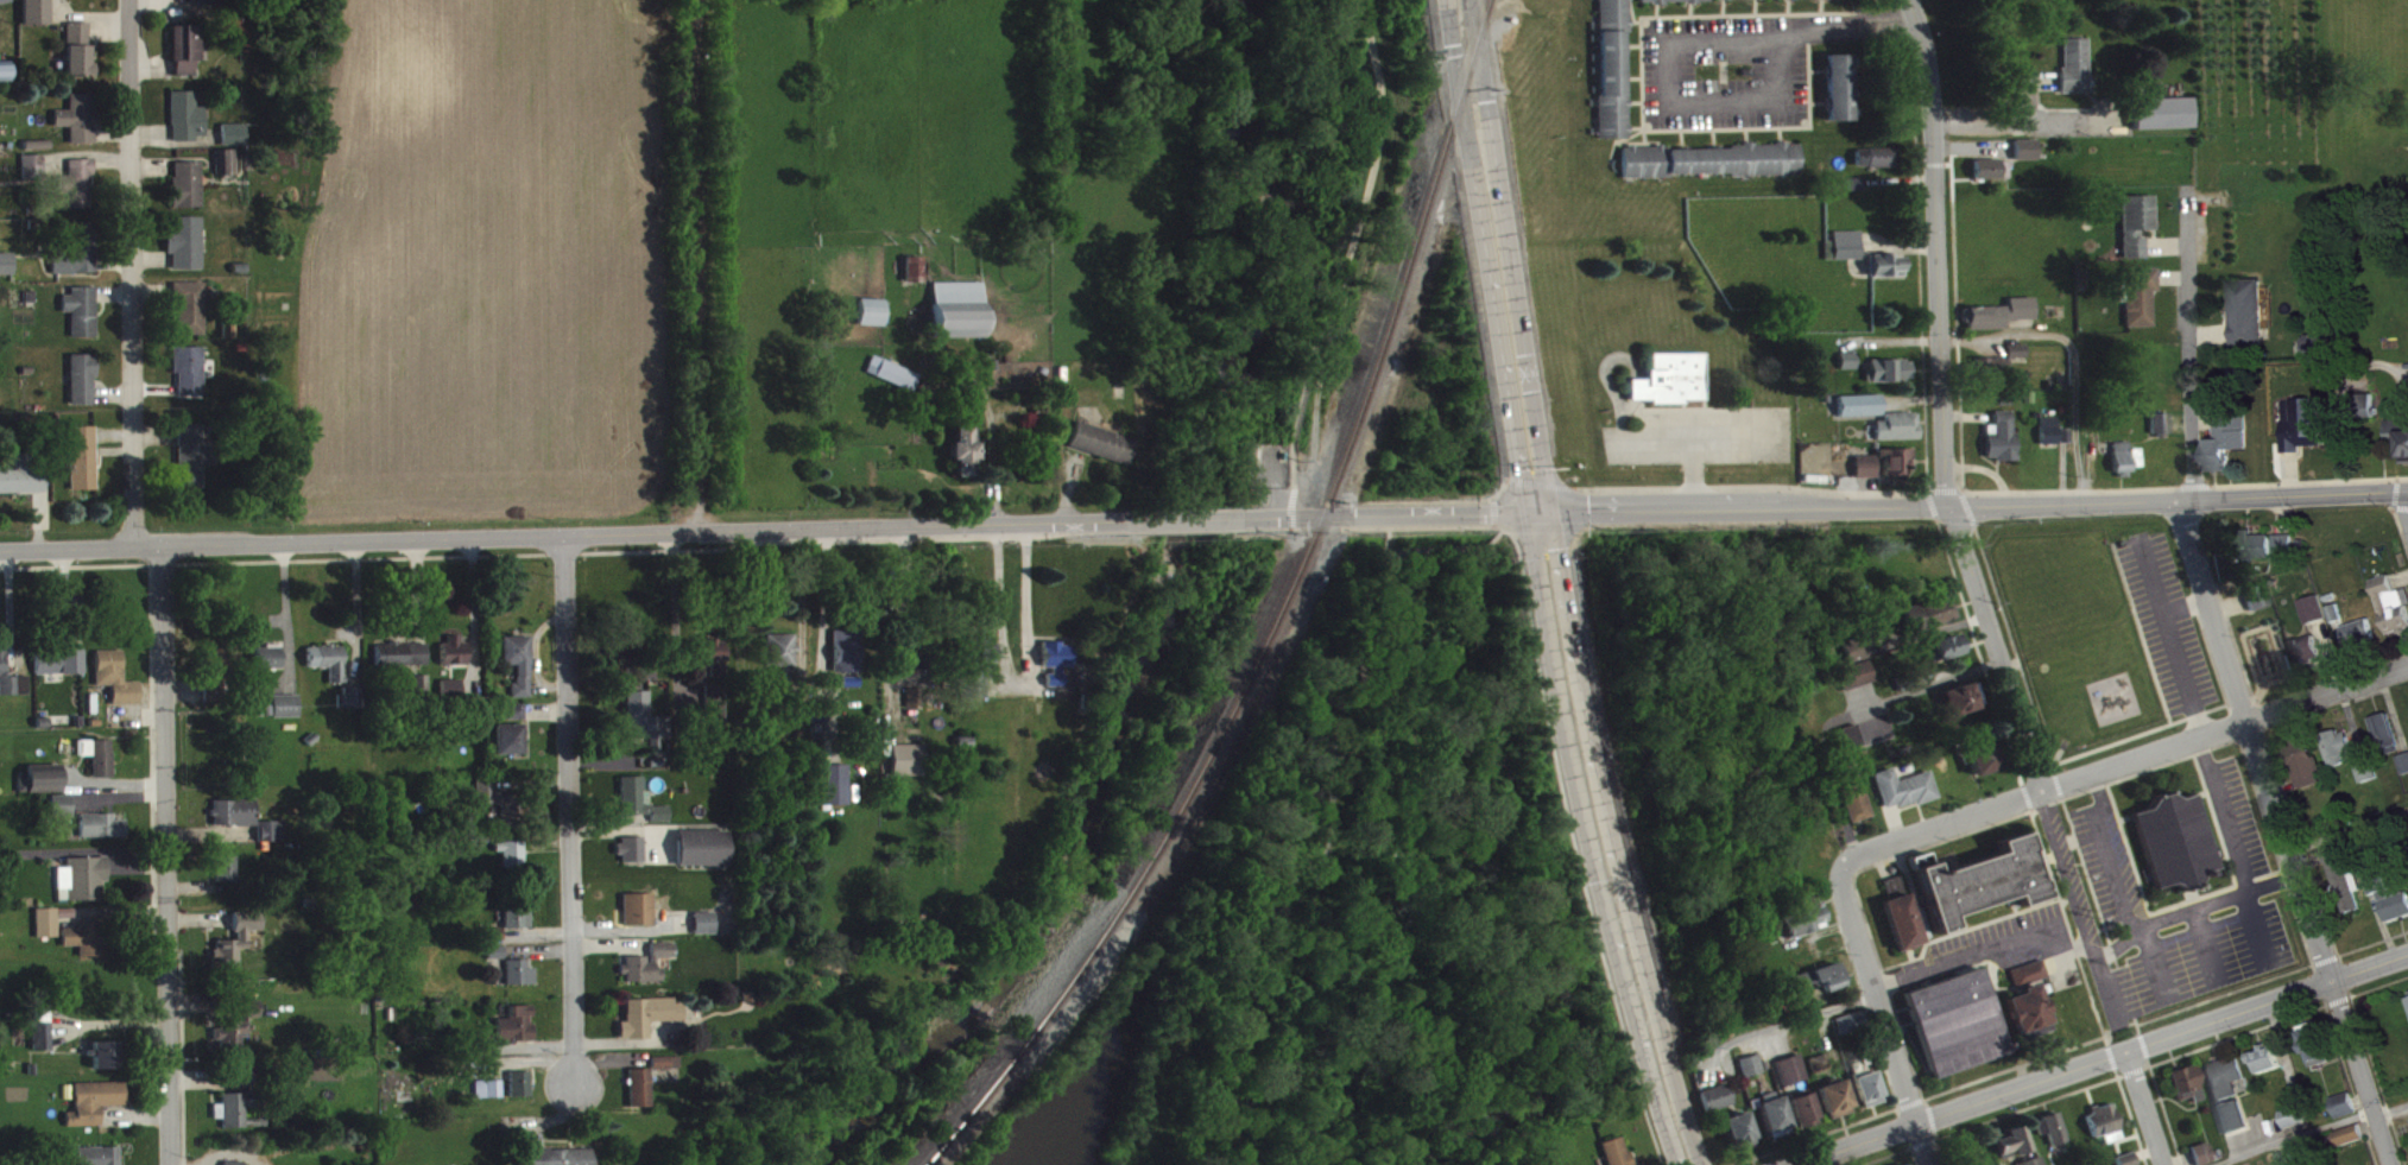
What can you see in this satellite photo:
building: (1728, 5)
building: (5, 6)
building: (210, 8)
building: (37, 17)
building: (1613, 19)
road: (1682, 39)
building: (78, 58)
building: (187, 58)
building: (2073, 62)
road: (2029, 78)
building: (6, 80)
building: (1612, 96)
building: (1840, 96)
road: (2022, 105)
building: (2159, 110)
road: (2073, 118)
building: (188, 126)
building: (80, 127)
building: (235, 144)
building: (2022, 146)
road: (1972, 147)
building: (1872, 154)
building: (2028, 159)
building: (1987, 166)
building: (1877, 167)
building: (1711, 170)
building: (227, 172)
building: (36, 177)
road: (1897, 178)
building: (1993, 179)
building: (1854, 181)
building: (78, 191)
building: (188, 194)
building: (2134, 221)
road: (1917, 238)
building: (1841, 242)
road: (1896, 245)
road: (2166, 245)
road: (1353, 246)
road: (1935, 249)
building: (185, 251)
building: (1845, 255)
building: (80, 260)
building: (1882, 262)
road: (124, 272)
building: (7, 273)
building: (1888, 274)
road: (2172, 276)
building: (916, 278)
building: (2136, 292)
building: (2246, 310)
building: (1996, 311)
building: (190, 317)
building: (960, 319)
building: (83, 321)
building: (873, 322)
building: (2002, 323)
road: (2211, 331)
road: (1889, 338)
road: (2191, 343)
building: (2014, 348)
road: (2074, 355)
building: (1845, 357)
building: (2320, 357)
building: (2006, 367)
building: (1886, 368)
building: (1982, 369)
building: (1850, 371)
building: (190, 380)
building: (1891, 380)
building: (893, 382)
building: (83, 388)
building: (1670, 388)
road: (2338, 393)
road: (1909, 398)
building: (1999, 398)
building: (1857, 401)
building: (2362, 403)
building: (1862, 414)
road: (1966, 414)
building: (2157, 419)
road: (2204, 419)
road: (2179, 422)
building: (2301, 423)
building: (1895, 424)
building: (2044, 428)
building: (2398, 431)
building: (2163, 432)
building: (2061, 433)
building: (1997, 435)
building: (1900, 436)
building: (2226, 437)
building: (2050, 439)
building: (1102, 452)
building: (2121, 456)
building: (1894, 460)
building: (965, 461)
building: (1863, 463)
building: (194, 466)
building: (84, 467)
road: (1985, 468)
road: (2060, 470)
road: (2290, 471)
road: (1529, 473)
building: (1867, 475)
building: (23, 483)
road: (1808, 486)
road: (1944, 488)
road: (1864, 489)
road: (2015, 489)
road: (2394, 490)
road: (2406, 496)
road: (2179, 499)
road: (2400, 505)
road: (1743, 506)
road: (1289, 507)
traffic signals: (1536, 511)
road: (2283, 513)
road: (1384, 514)
road: (1177, 520)
road: (1407, 526)
road: (2400, 530)
road: (561, 537)
building: (2282, 542)
building: (2252, 543)
road: (1431, 547)
building: (2288, 553)
building: (2263, 556)
road: (2400, 575)
building: (2254, 595)
building: (2328, 595)
building: (2391, 601)
road: (2185, 603)
road: (2227, 604)
building: (2311, 606)
building: (2258, 607)
building: (2333, 610)
building: (1926, 612)
railway: (1272, 615)
building: (2317, 619)
parking lot: (2166, 620)
building: (1933, 623)
road: (1924, 631)
building: (2358, 631)
road: (2141, 632)
road: (2170, 634)
building: (2363, 642)
building: (1852, 646)
building: (1944, 646)
building: (2305, 648)
road: (2345, 650)
road: (2330, 652)
building: (1951, 657)
building: (782, 659)
building: (1857, 659)
building: (456, 660)
building: (848, 660)
building: (2311, 660)
building: (403, 664)
building: (715, 665)
building: (270, 666)
building: (220, 669)
building: (329, 670)
building: (61, 671)
building: (1057, 671)
building: (520, 672)
building: (1853, 672)
building: (981, 673)
building: (1904, 678)
building: (912, 680)
road: (1015, 682)
building: (1858, 685)
building: (118, 686)
building: (12, 688)
building: (1958, 697)
building: (422, 698)
road: (2242, 703)
building: (353, 707)
building: (914, 707)
road: (1851, 711)
road: (2393, 711)
building: (716, 714)
building: (287, 715)
road: (2037, 718)
building: (517, 721)
building: (822, 721)
road: (2352, 722)
building: (646, 730)
building: (2384, 730)
road: (2140, 732)
building: (1846, 735)
building: (2336, 743)
building: (513, 748)
building: (1980, 753)
road: (2055, 754)
building: (2303, 760)
building: (2402, 760)
road: (2122, 761)
road: (2034, 764)
building: (100, 765)
building: (2364, 767)
road: (2276, 768)
building: (909, 770)
building: (2406, 772)
road: (2252, 780)
building: (2370, 780)
road: (2282, 783)
building: (1902, 786)
building: (43, 789)
building: (836, 794)
building: (1852, 794)
building: (500, 810)
building: (641, 810)
road: (568, 811)
parking lot: (2235, 816)
road: (1892, 821)
building: (236, 822)
road: (2037, 825)
road: (2347, 828)
building: (2404, 829)
road: (2283, 832)
building: (103, 835)
road: (2078, 836)
building: (273, 841)
building: (2172, 841)
road: (1935, 842)
road: (2233, 850)
road: (170, 855)
building: (704, 857)
building: (633, 859)
road: (2308, 859)
parking lot: (2106, 860)
building: (513, 862)
road: (1308, 868)
building: (2341, 874)
building: (228, 878)
building: (1977, 884)
road: (2118, 885)
building: (86, 887)
building: (2387, 895)
road: (2192, 907)
building: (1897, 913)
park: (1351, 917)
building: (640, 918)
parking lot: (2085, 918)
building: (1799, 919)
road: (2383, 924)
building: (520, 925)
road: (1819, 931)
building: (49, 932)
building: (706, 932)
building: (1802, 932)
parking lot: (2002, 944)
road: (2205, 944)
building: (88, 948)
building: (240, 948)
road: (1980, 949)
parking lot: (2204, 956)
building: (498, 962)
building: (651, 973)
building: (1813, 975)
road: (2271, 975)
building: (522, 982)
building: (1818, 992)
building: (2027, 998)
road: (1865, 1001)
road: (1883, 1017)
building: (1954, 1017)
road: (1786, 1020)
building: (1844, 1020)
building: (651, 1025)
road: (2118, 1025)
building: (518, 1033)
building: (1848, 1033)
building: (239, 1036)
building: (45, 1040)
building: (2315, 1041)
road: (2284, 1051)
building: (2265, 1053)
road: (1657, 1055)
building: (1816, 1059)
road: (2099, 1059)
building: (107, 1064)
building: (2269, 1069)
road: (2131, 1070)
building: (668, 1072)
building: (1751, 1075)
road: (2379, 1078)
building: (1791, 1079)
building: (2185, 1079)
building: (1866, 1083)
road: (2352, 1083)
building: (244, 1087)
building: (2227, 1088)
road: (2159, 1091)
building: (522, 1094)
building: (1833, 1094)
road: (2362, 1095)
road: (1928, 1096)
building: (641, 1097)
building: (489, 1098)
building: (2344, 1101)
building: (1718, 1107)
road: (2144, 1107)
building: (96, 1112)
building: (2292, 1114)
building: (2347, 1114)
building: (236, 1117)
building: (1806, 1117)
building: (2102, 1117)
building: (1775, 1122)
building: (2049, 1123)
building: (2296, 1126)
building: (2236, 1127)
road: (1934, 1131)
road: (2309, 1131)
building: (2010, 1136)
building: (1739, 1139)
road: (2240, 1140)
building: (2352, 1145)
road: (2145, 1150)
building: (2200, 1150)
building: (2014, 1151)
building: (2218, 1151)
road: (1913, 1155)
building: (1617, 1157)
building: (2125, 1157)
building: (1982, 1159)
building: (2029, 1159)
road: (2179, 1159)
building: (2207, 1159)
building: (97, 1160)
building: (561, 1161)
building: (1901, 1163)
building: (2132, 1164)

